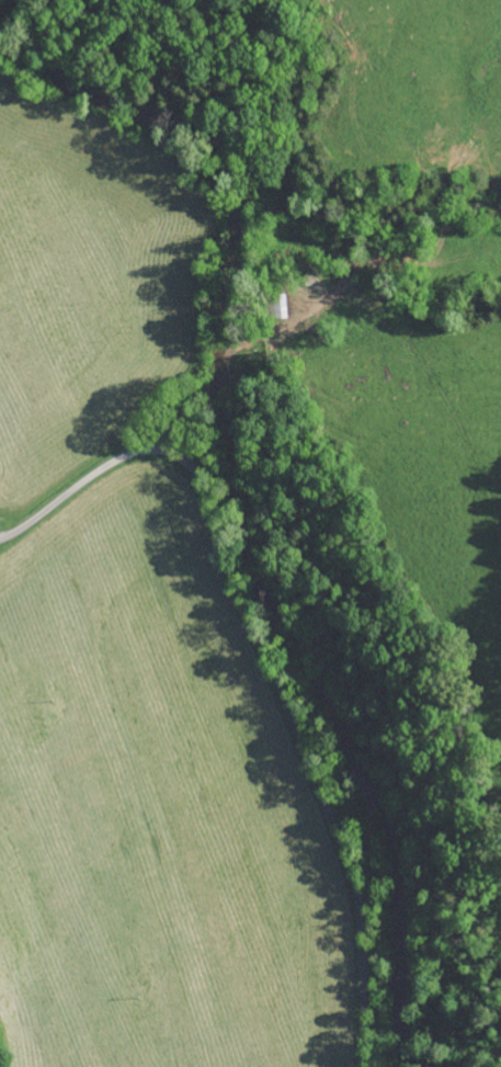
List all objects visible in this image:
road: (263, 660)

